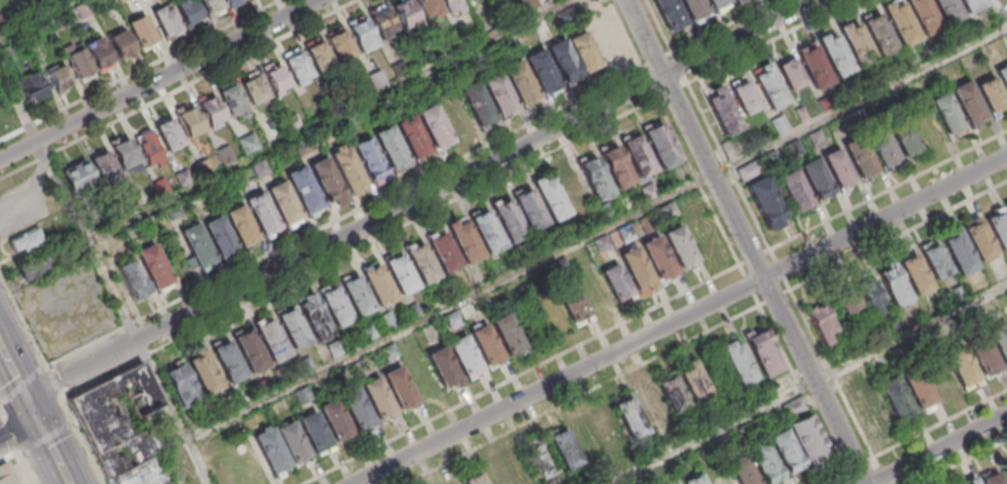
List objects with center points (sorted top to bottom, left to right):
building: (121, 0)
building: (467, 0)
building: (738, 1)
building: (235, 2)
building: (718, 3)
building: (453, 5)
building: (972, 5)
building: (213, 6)
building: (429, 6)
building: (695, 7)
building: (188, 10)
building: (948, 10)
building: (671, 12)
building: (406, 13)
building: (924, 15)
road: (36, 18)
building: (167, 19)
building: (384, 22)
building: (900, 22)
road: (725, 26)
road: (662, 29)
building: (143, 30)
building: (879, 33)
building: (363, 34)
road: (627, 36)
building: (607, 39)
road: (766, 41)
building: (121, 42)
building: (856, 43)
building: (341, 44)
building: (99, 51)
building: (586, 53)
road: (671, 53)
building: (835, 54)
building: (320, 57)
road: (659, 60)
building: (564, 61)
building: (297, 66)
road: (680, 66)
building: (815, 66)
building: (543, 71)
building: (793, 73)
building: (1002, 75)
building: (59, 76)
road: (686, 78)
road: (160, 79)
building: (277, 80)
road: (649, 80)
building: (521, 81)
building: (33, 85)
building: (772, 85)
building: (255, 90)
road: (673, 90)
building: (501, 93)
building: (990, 94)
building: (747, 96)
building: (233, 99)
building: (967, 102)
building: (478, 103)
building: (211, 110)
building: (722, 110)
building: (946, 113)
road: (331, 119)
building: (189, 120)
building: (781, 124)
building: (435, 126)
building: (169, 134)
building: (326, 135)
building: (902, 135)
building: (413, 137)
building: (817, 138)
building: (663, 145)
building: (392, 147)
building: (882, 147)
building: (733, 148)
building: (125, 153)
building: (640, 156)
building: (860, 157)
building: (370, 158)
building: (774, 159)
road: (730, 165)
building: (618, 167)
building: (347, 168)
building: (752, 169)
building: (838, 169)
building: (596, 178)
building: (327, 179)
building: (817, 180)
building: (304, 188)
building: (572, 188)
road: (889, 190)
building: (795, 191)
building: (650, 192)
road: (707, 196)
road: (418, 197)
building: (551, 197)
building: (764, 198)
road: (68, 201)
building: (284, 203)
building: (1006, 207)
building: (531, 209)
building: (671, 210)
building: (606, 213)
building: (263, 214)
road: (346, 215)
building: (510, 220)
road: (407, 223)
building: (650, 224)
building: (241, 225)
building: (998, 226)
building: (488, 231)
road: (597, 234)
building: (220, 236)
road: (899, 236)
building: (980, 239)
building: (25, 240)
building: (466, 242)
road: (748, 242)
building: (604, 243)
building: (197, 245)
building: (681, 246)
building: (444, 252)
building: (959, 254)
building: (659, 256)
building: (936, 261)
building: (422, 263)
building: (562, 266)
building: (32, 268)
building: (152, 268)
building: (639, 270)
building: (401, 273)
building: (915, 275)
building: (132, 280)
building: (618, 282)
building: (379, 285)
building: (894, 286)
building: (357, 296)
road: (776, 298)
building: (573, 301)
building: (860, 301)
building: (335, 306)
building: (412, 311)
building: (314, 317)
road: (22, 319)
road: (676, 319)
building: (454, 320)
building: (822, 322)
building: (292, 328)
building: (368, 333)
building: (508, 334)
building: (271, 340)
building: (1000, 340)
building: (487, 345)
building: (335, 349)
building: (250, 350)
building: (763, 351)
building: (390, 352)
road: (145, 354)
building: (983, 354)
building: (466, 357)
building: (228, 362)
building: (740, 363)
road: (46, 366)
building: (961, 366)
road: (534, 367)
building: (445, 368)
building: (205, 373)
road: (14, 376)
road: (100, 376)
building: (851, 377)
road: (55, 378)
road: (22, 382)
building: (694, 382)
road: (809, 385)
building: (182, 386)
building: (400, 387)
building: (918, 387)
building: (674, 394)
road: (805, 394)
building: (303, 395)
road: (581, 395)
building: (895, 396)
building: (378, 399)
traffic signals: (29, 405)
building: (794, 405)
building: (653, 407)
building: (865, 408)
building: (357, 409)
road: (173, 411)
road: (0, 413)
road: (2, 415)
building: (632, 419)
road: (71, 420)
building: (335, 420)
road: (856, 420)
road: (16, 424)
building: (607, 426)
building: (122, 428)
building: (314, 432)
road: (10, 433)
road: (47, 436)
road: (81, 437)
building: (809, 440)
building: (292, 442)
road: (48, 444)
building: (565, 448)
building: (270, 450)
road: (939, 450)
road: (21, 451)
building: (786, 452)
road: (9, 456)
building: (543, 460)
building: (765, 462)
road: (963, 462)
road: (862, 464)
road: (25, 465)
building: (1004, 469)
building: (743, 471)
building: (497, 474)
building: (6, 475)
building: (475, 479)
building: (991, 479)
building: (695, 480)
building: (457, 483)
building: (973, 483)

